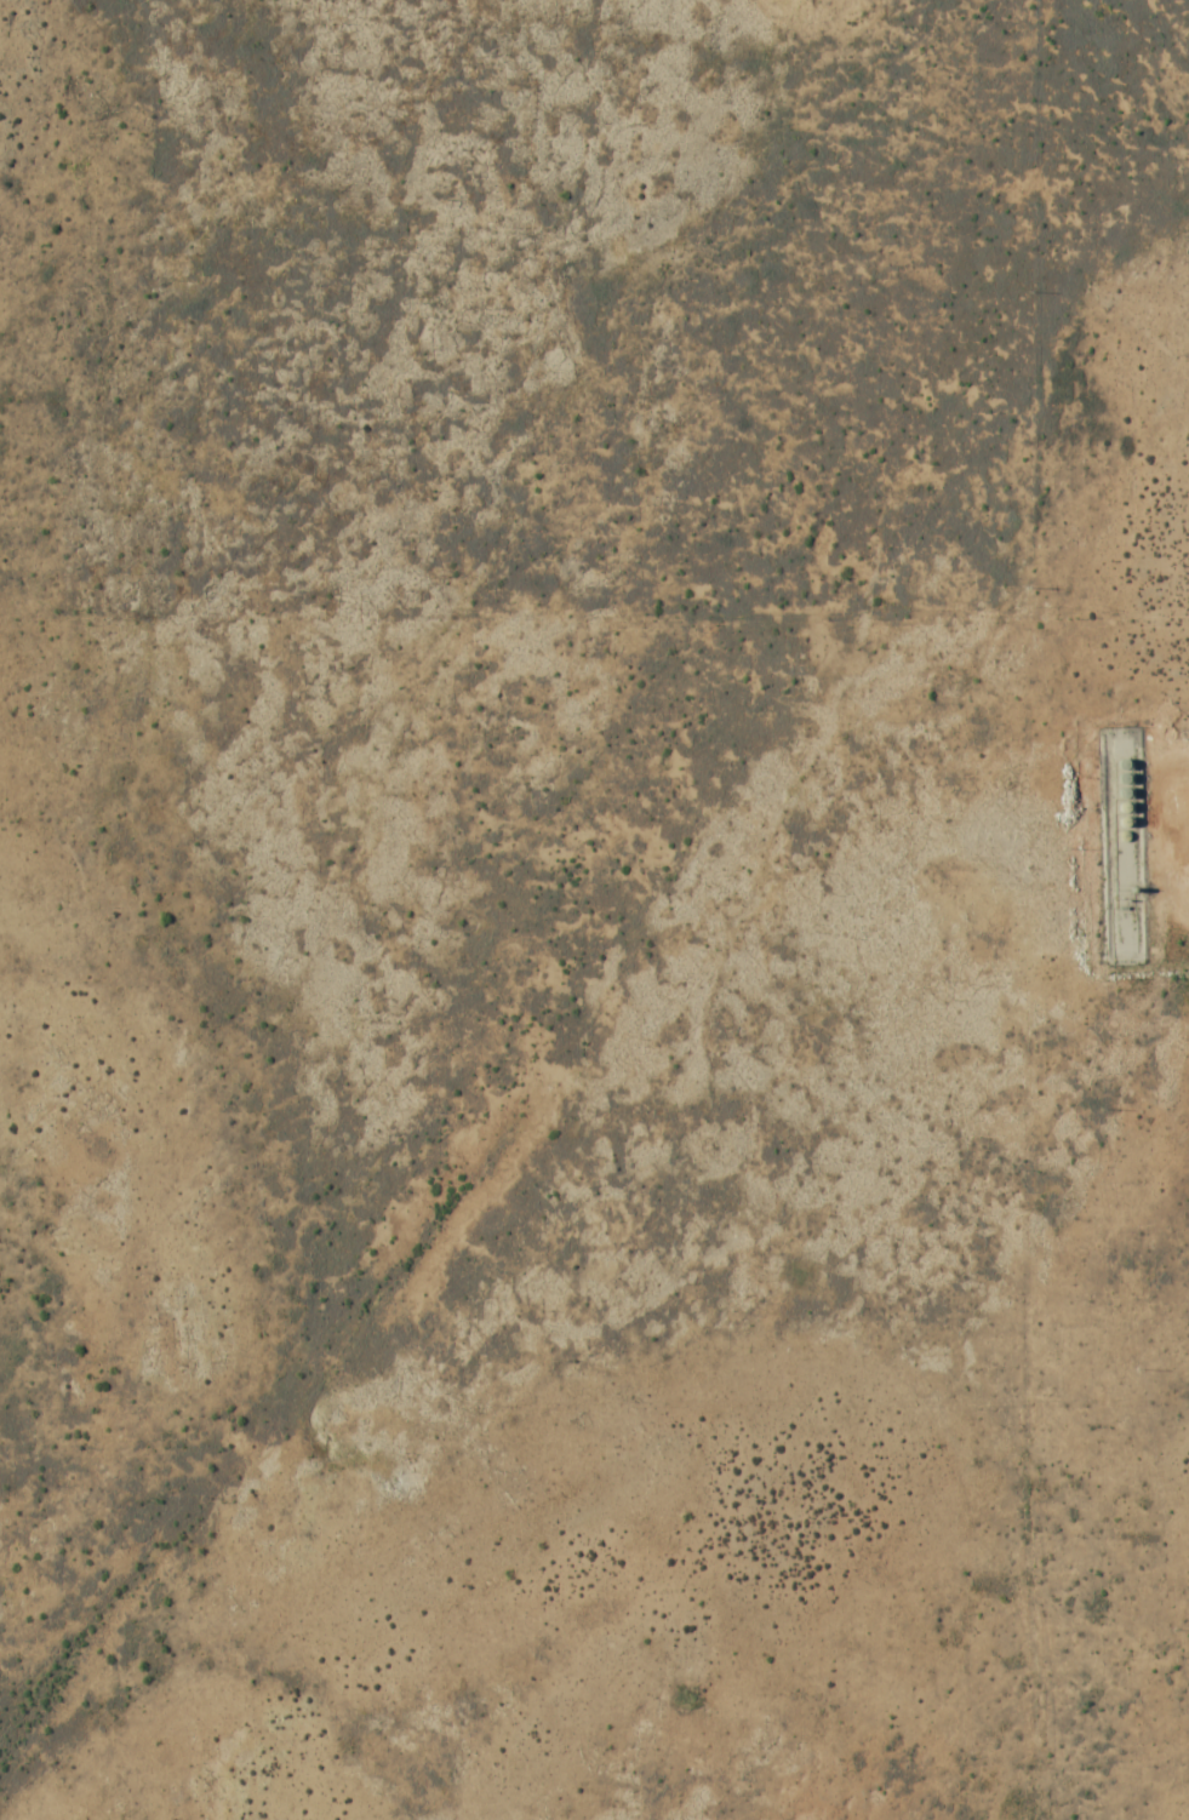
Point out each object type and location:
road: (1184, 855)

